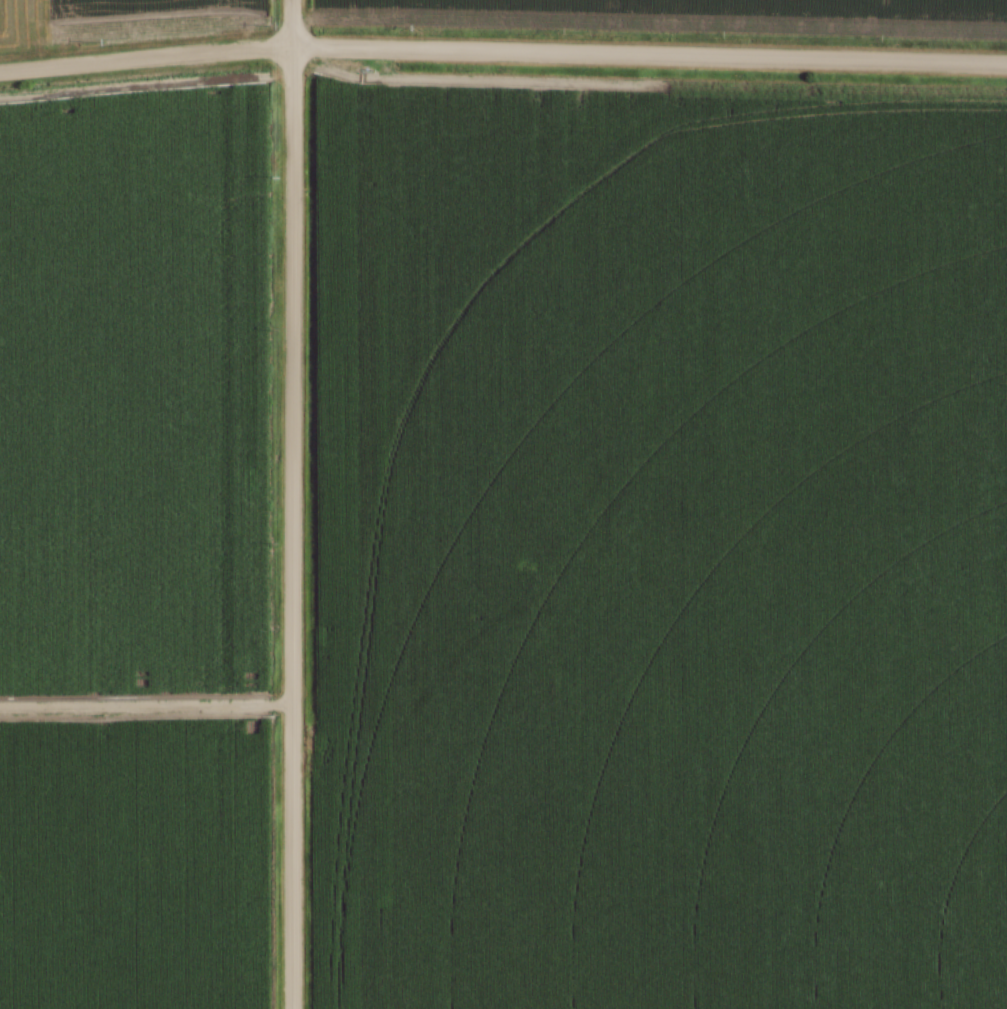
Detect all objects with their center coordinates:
crop: (694, 12)
crop: (152, 16)
road: (294, 25)
road: (650, 56)
road: (147, 61)
crop: (133, 387)
road: (294, 529)
crop: (666, 539)
building: (533, 638)
silo: (527, 688)
building: (526, 691)
silo: (504, 700)
building: (508, 705)
road: (147, 711)
building: (517, 723)
road: (534, 734)
crop: (136, 867)

